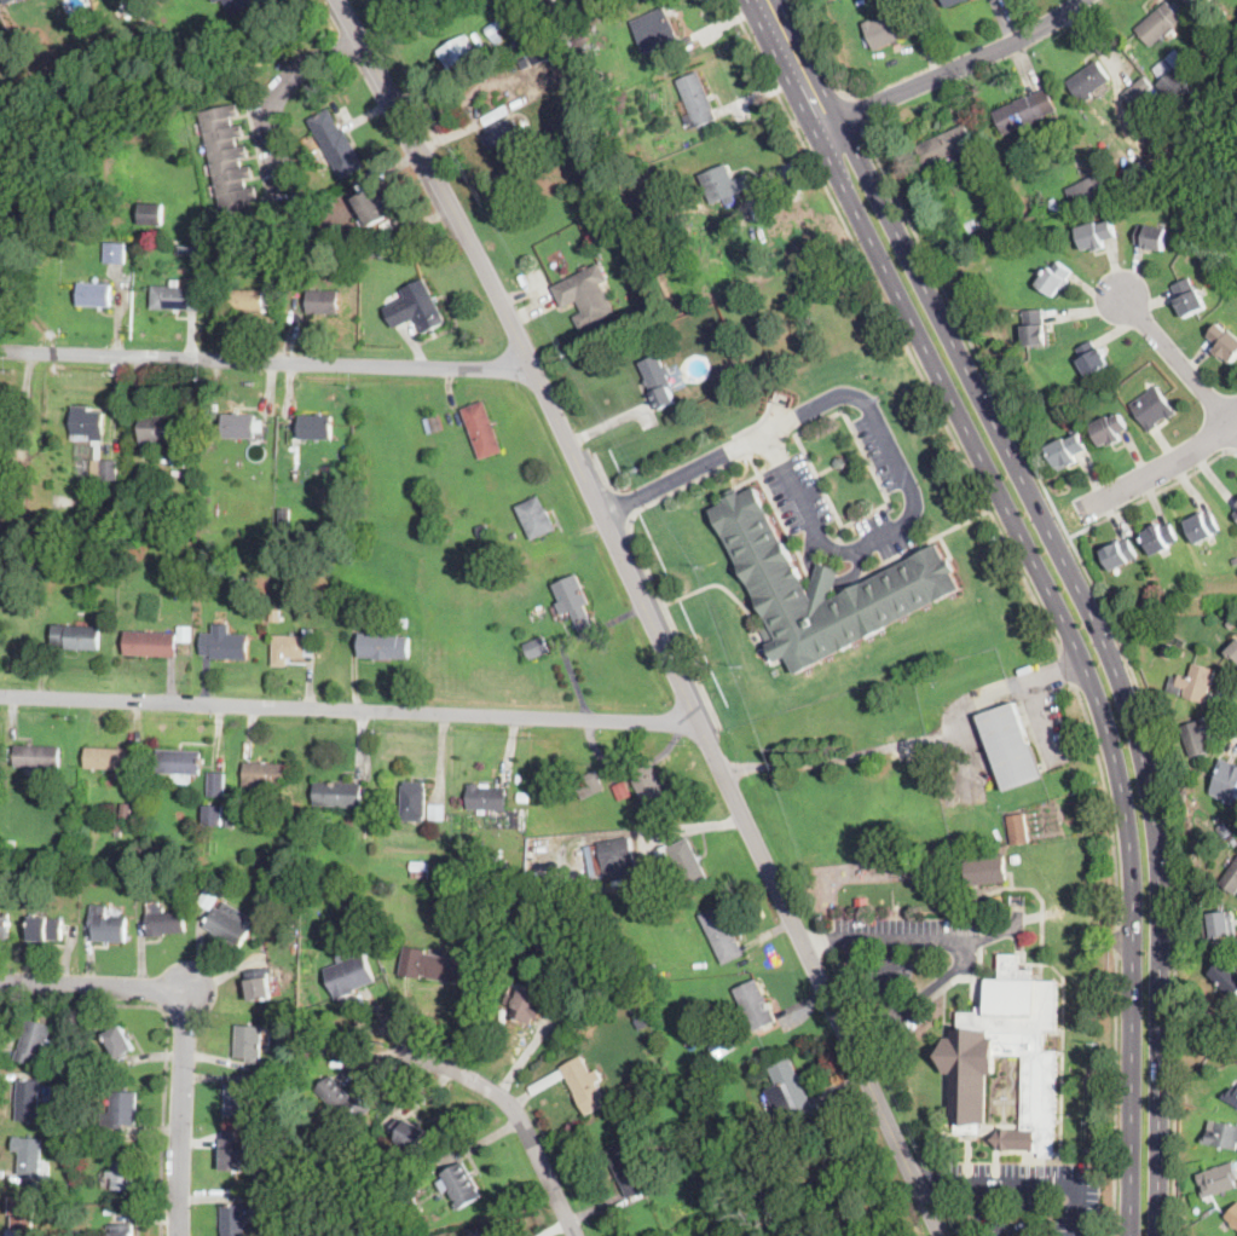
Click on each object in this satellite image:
building: (22, 0)
building: (216, 0)
building: (10, 1)
building: (950, 2)
building: (237, 5)
building: (1215, 13)
road: (728, 18)
building: (1158, 23)
building: (892, 25)
building: (495, 27)
building: (657, 34)
building: (1215, 37)
building: (578, 40)
building: (513, 45)
building: (456, 51)
building: (542, 52)
road: (823, 52)
road: (952, 69)
building: (1088, 81)
building: (1175, 83)
road: (768, 87)
building: (1135, 92)
road: (279, 97)
building: (696, 99)
road: (857, 109)
building: (1023, 111)
building: (1210, 117)
building: (501, 129)
building: (336, 144)
building: (944, 145)
road: (790, 157)
building: (227, 160)
building: (1120, 178)
building: (723, 184)
building: (1087, 190)
building: (1054, 204)
building: (375, 206)
building: (1117, 209)
building: (150, 213)
building: (984, 226)
building: (1097, 235)
building: (1151, 237)
building: (115, 252)
building: (381, 252)
building: (274, 258)
building: (634, 258)
building: (1236, 273)
building: (1054, 278)
building: (644, 283)
building: (94, 294)
building: (177, 296)
building: (588, 296)
building: (1187, 298)
building: (769, 300)
building: (245, 301)
building: (323, 301)
building: (416, 307)
road: (895, 324)
building: (1035, 328)
building: (767, 329)
building: (1225, 342)
building: (1092, 358)
road: (266, 362)
road: (1179, 363)
building: (728, 369)
building: (658, 381)
building: (1152, 408)
building: (86, 423)
building: (433, 423)
building: (239, 426)
road: (879, 426)
building: (156, 427)
building: (316, 427)
building: (482, 429)
building: (1109, 429)
building: (186, 445)
building: (1067, 451)
building: (180, 461)
building: (839, 461)
road: (1163, 466)
building: (103, 469)
building: (178, 473)
road: (603, 477)
parking lot: (790, 481)
road: (1152, 493)
road: (623, 503)
building: (1236, 514)
building: (284, 515)
building: (536, 518)
building: (1203, 526)
building: (482, 530)
building: (1160, 538)
building: (1118, 554)
road: (643, 561)
building: (247, 578)
building: (822, 587)
road: (1048, 589)
road: (1077, 589)
building: (573, 600)
building: (334, 612)
road: (647, 613)
building: (404, 620)
building: (184, 631)
building: (77, 636)
building: (151, 642)
building: (225, 646)
building: (383, 646)
building: (536, 646)
building: (294, 647)
building: (1232, 647)
road: (1123, 651)
building: (1167, 651)
road: (1067, 668)
building: (1193, 682)
road: (1011, 685)
road: (349, 710)
road: (1040, 710)
parking lot: (1050, 727)
building: (1198, 735)
building: (1011, 747)
road: (866, 751)
building: (37, 756)
parking lot: (961, 756)
building: (111, 757)
building: (178, 761)
building: (1181, 767)
building: (262, 775)
building: (1226, 781)
building: (215, 784)
building: (588, 784)
building: (651, 789)
building: (622, 790)
building: (336, 793)
building: (486, 797)
building: (412, 801)
building: (126, 810)
building: (437, 812)
building: (213, 815)
building: (230, 821)
building: (115, 827)
building: (1019, 827)
building: (1225, 827)
building: (1233, 842)
building: (10, 843)
building: (496, 856)
building: (612, 857)
building: (1016, 859)
building: (684, 861)
building: (235, 868)
building: (420, 870)
building: (987, 870)
building: (342, 873)
building: (1231, 879)
building: (288, 893)
building: (294, 897)
building: (208, 899)
building: (347, 902)
building: (950, 902)
building: (862, 903)
building: (1196, 903)
building: (162, 919)
building: (230, 923)
building: (1220, 923)
building: (106, 924)
building: (4, 926)
building: (46, 928)
building: (722, 934)
road: (904, 938)
road: (822, 940)
building: (287, 941)
parking lot: (897, 941)
building: (285, 952)
road: (1116, 958)
building: (434, 965)
building: (349, 975)
building: (1226, 976)
road: (891, 981)
building: (259, 984)
road: (935, 984)
building: (755, 1005)
building: (525, 1006)
building: (635, 1010)
road: (185, 1020)
parking lot: (901, 1020)
road: (872, 1036)
road: (167, 1040)
building: (35, 1041)
building: (119, 1041)
building: (248, 1042)
building: (723, 1045)
building: (281, 1047)
building: (68, 1059)
building: (971, 1064)
building: (91, 1070)
building: (260, 1085)
building: (584, 1085)
building: (787, 1088)
building: (1231, 1096)
building: (29, 1101)
building: (342, 1102)
building: (236, 1103)
building: (120, 1110)
building: (63, 1117)
road: (519, 1119)
building: (409, 1133)
building: (1222, 1136)
building: (736, 1137)
building: (67, 1138)
building: (232, 1155)
building: (28, 1156)
building: (122, 1169)
building: (631, 1171)
building: (1220, 1179)
building: (706, 1183)
building: (459, 1184)
road: (948, 1184)
road: (1024, 1185)
parking lot: (1025, 1194)
building: (283, 1201)
building: (709, 1202)
building: (410, 1203)
building: (60, 1211)
building: (22, 1212)
building: (438, 1213)
building: (120, 1217)
building: (1233, 1217)
building: (233, 1220)
building: (704, 1224)
building: (730, 1226)
building: (120, 1230)
building: (12, 1232)
building: (473, 1234)

